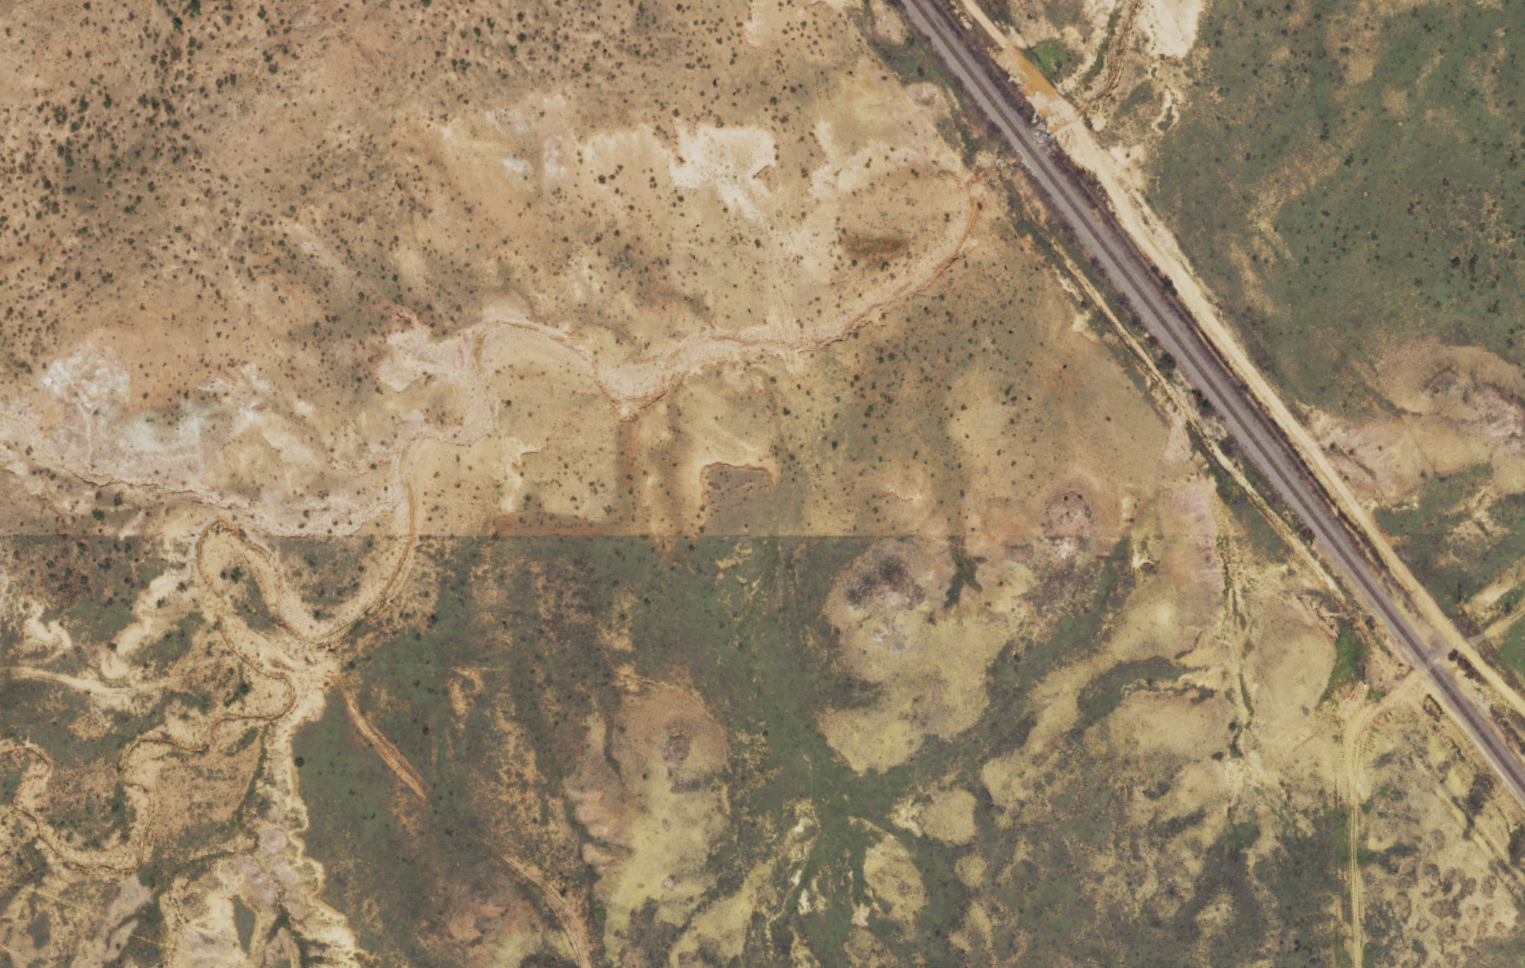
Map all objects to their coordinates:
railway: (1218, 398)
road: (298, 692)
road: (1377, 731)

